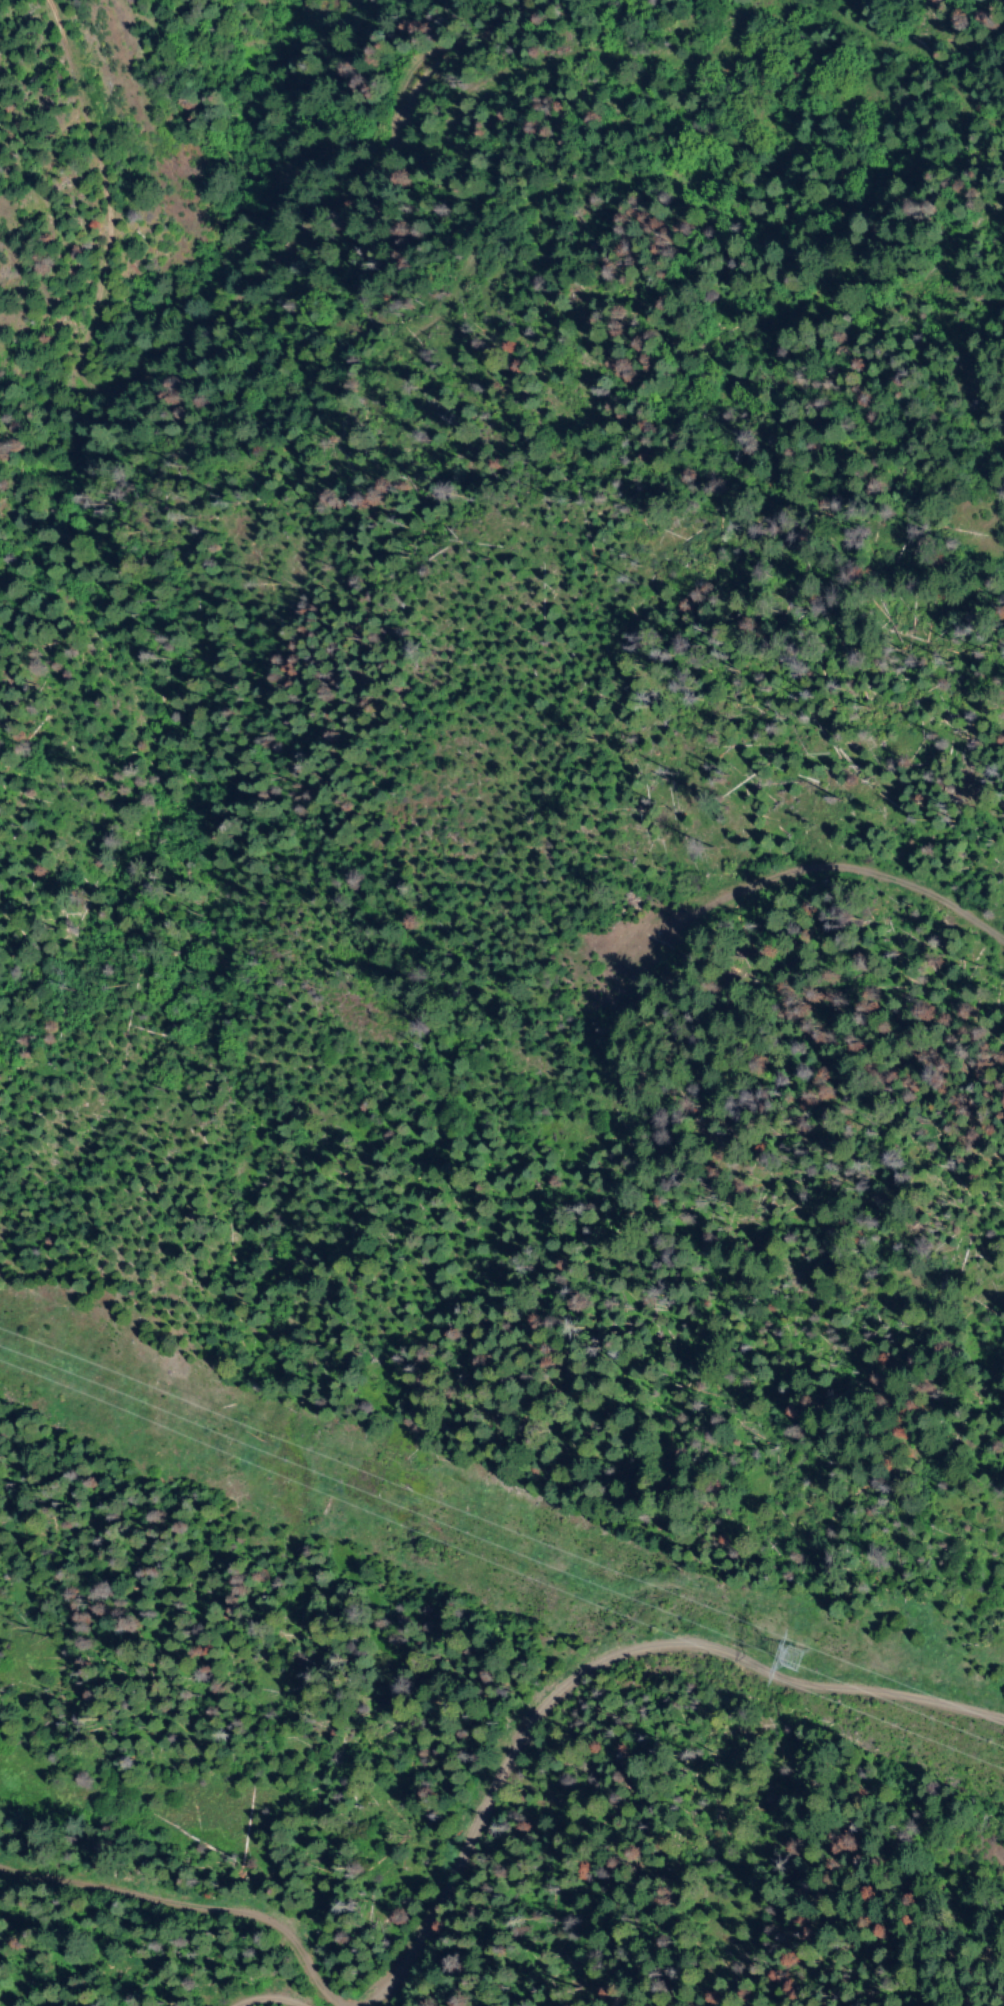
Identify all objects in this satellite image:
power tower: (798, 1656)
road: (633, 1743)
road: (182, 1886)

